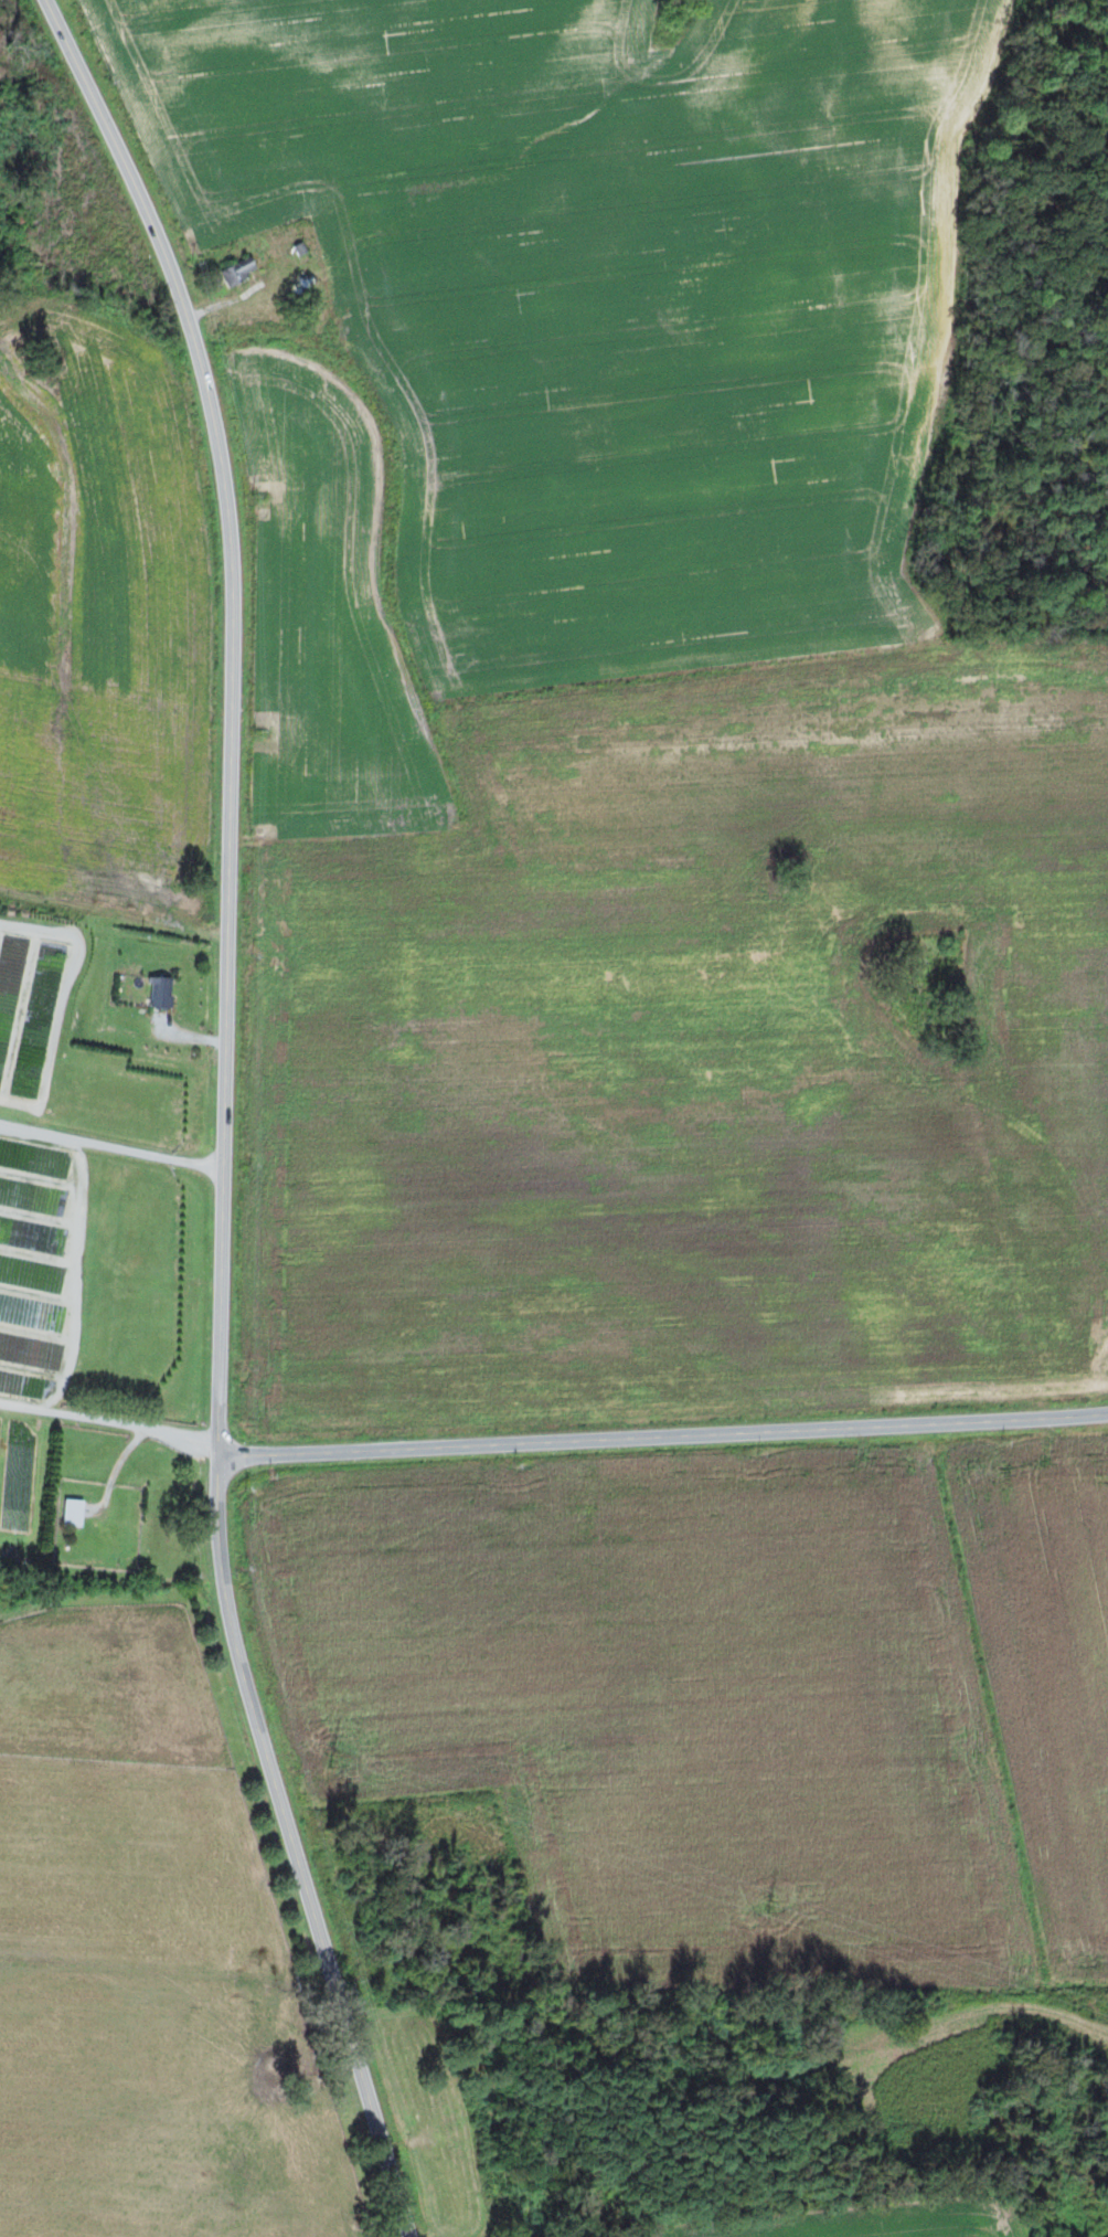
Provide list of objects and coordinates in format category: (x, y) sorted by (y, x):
building: (296, 247)
building: (234, 272)
building: (156, 992)
road: (225, 1114)
road: (663, 1436)
building: (67, 1513)
power tower: (332, 1761)
power tower: (768, 1907)

